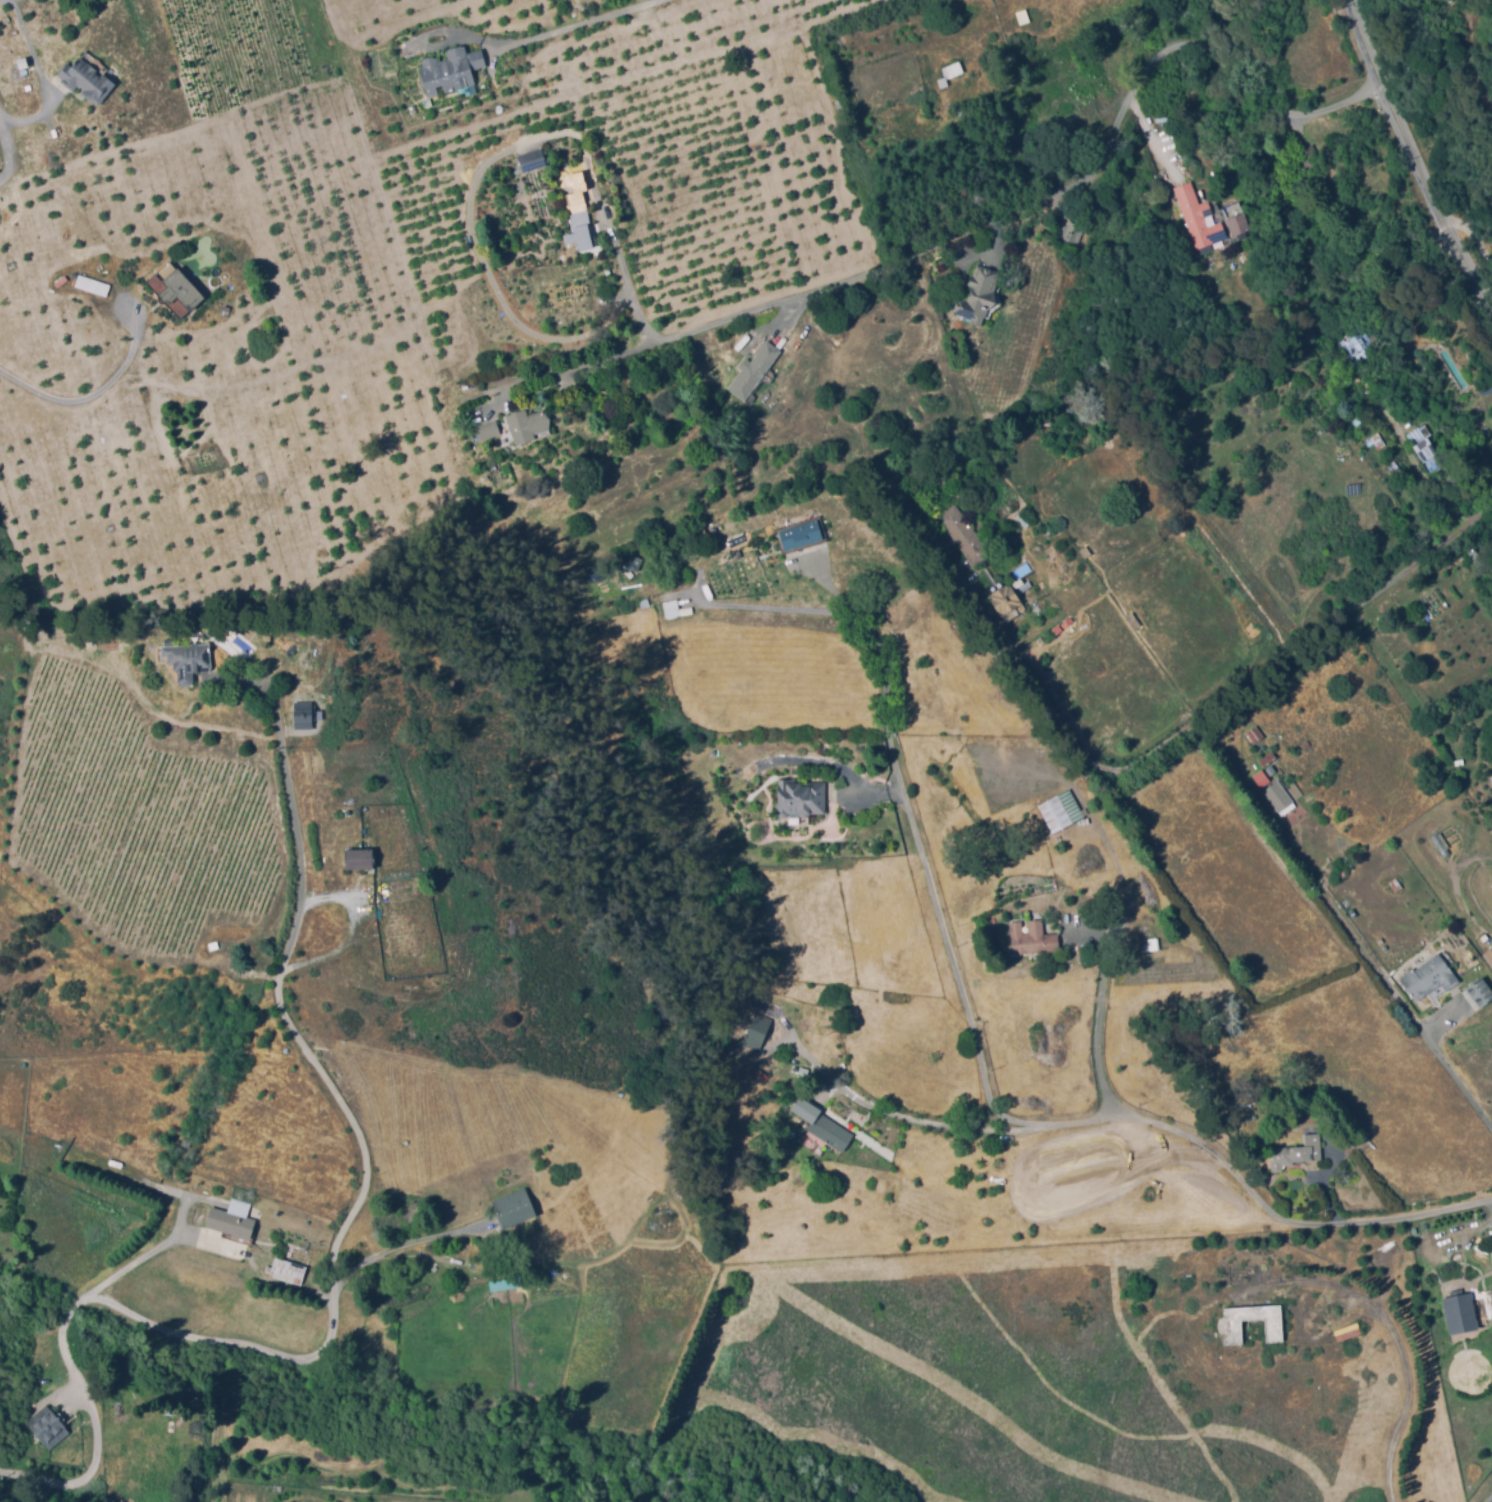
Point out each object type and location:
road: (0, 0)
building: (1022, 15)
road: (587, 22)
building: (1123, 54)
building: (24, 62)
building: (453, 69)
building: (953, 69)
road: (39, 77)
building: (87, 79)
building: (1044, 120)
building: (1307, 156)
building: (533, 159)
road: (8, 160)
road: (1412, 166)
building: (575, 189)
building: (581, 218)
building: (1233, 218)
road: (992, 225)
building: (1076, 232)
road: (1470, 232)
building: (560, 248)
road: (620, 271)
building: (90, 285)
building: (177, 289)
building: (979, 293)
building: (572, 296)
building: (1360, 344)
building: (755, 369)
road: (88, 395)
building: (1332, 396)
building: (529, 424)
building: (489, 429)
building: (1425, 446)
building: (1395, 464)
building: (802, 534)
building: (966, 535)
building: (1086, 550)
building: (633, 561)
road: (828, 585)
building: (1007, 601)
building: (645, 602)
building: (672, 604)
road: (771, 608)
building: (1134, 620)
building: (186, 657)
building: (304, 715)
road: (1190, 729)
building: (1255, 733)
building: (1270, 763)
building: (1259, 778)
building: (1491, 781)
building: (1292, 791)
building: (1280, 796)
building: (802, 800)
building: (1056, 812)
building: (1443, 847)
building: (362, 858)
building: (1394, 884)
road: (933, 886)
building: (1033, 939)
building: (1154, 942)
road: (1110, 954)
building: (1489, 958)
building: (1430, 980)
road: (279, 994)
building: (1482, 995)
building: (761, 1028)
road: (1459, 1078)
road: (910, 1121)
road: (1086, 1124)
building: (832, 1134)
building: (1297, 1151)
building: (513, 1207)
building: (197, 1216)
road: (1288, 1221)
building: (231, 1222)
building: (1454, 1237)
road: (157, 1250)
building: (1460, 1260)
building: (289, 1271)
building: (539, 1283)
building: (506, 1284)
building: (1462, 1315)
building: (1276, 1327)
road: (178, 1336)
road: (1399, 1349)
building: (49, 1429)

